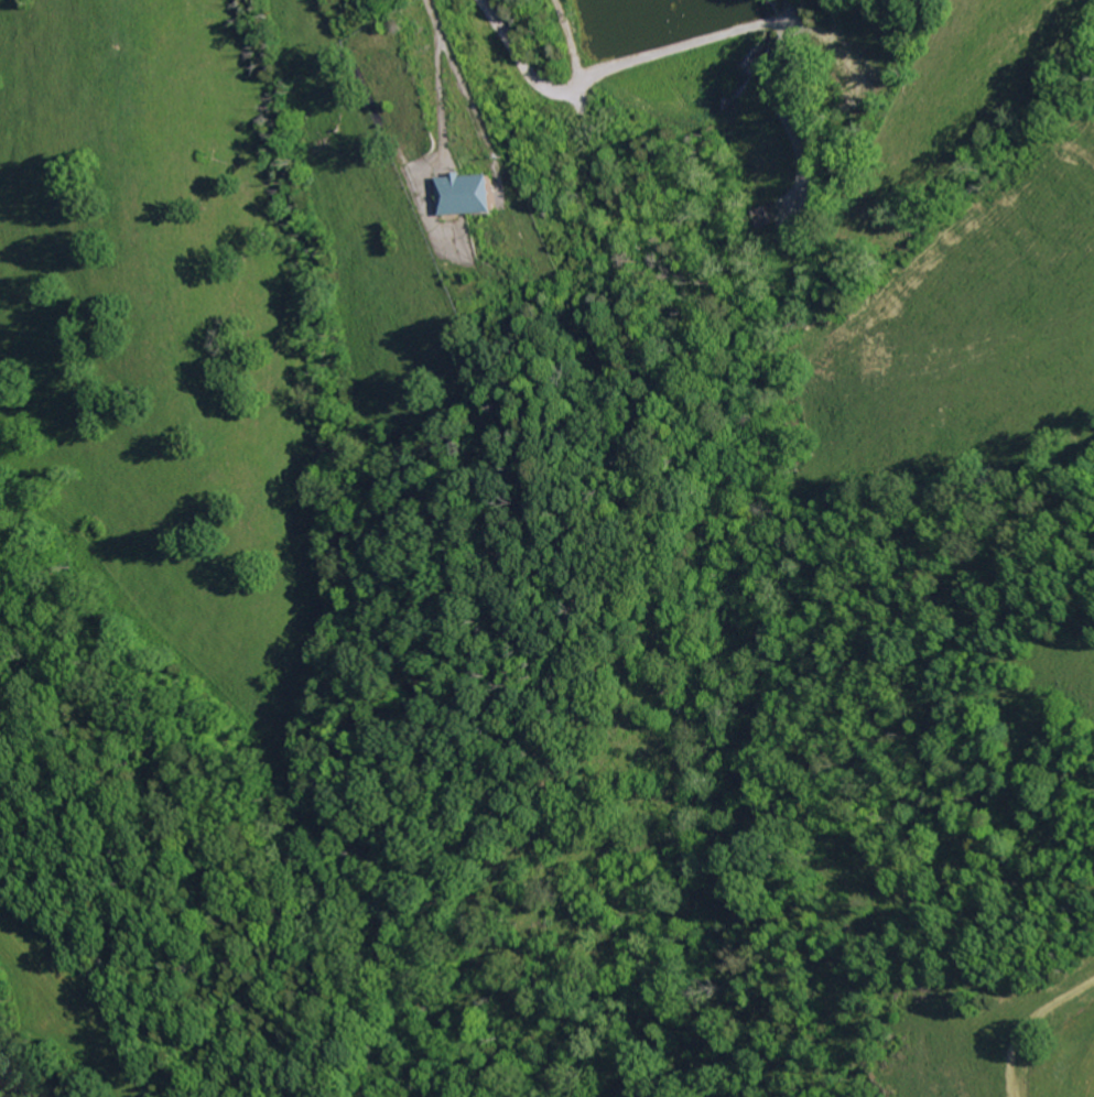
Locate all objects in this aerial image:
road: (724, 33)
road: (507, 37)
road: (546, 82)
building: (474, 193)

